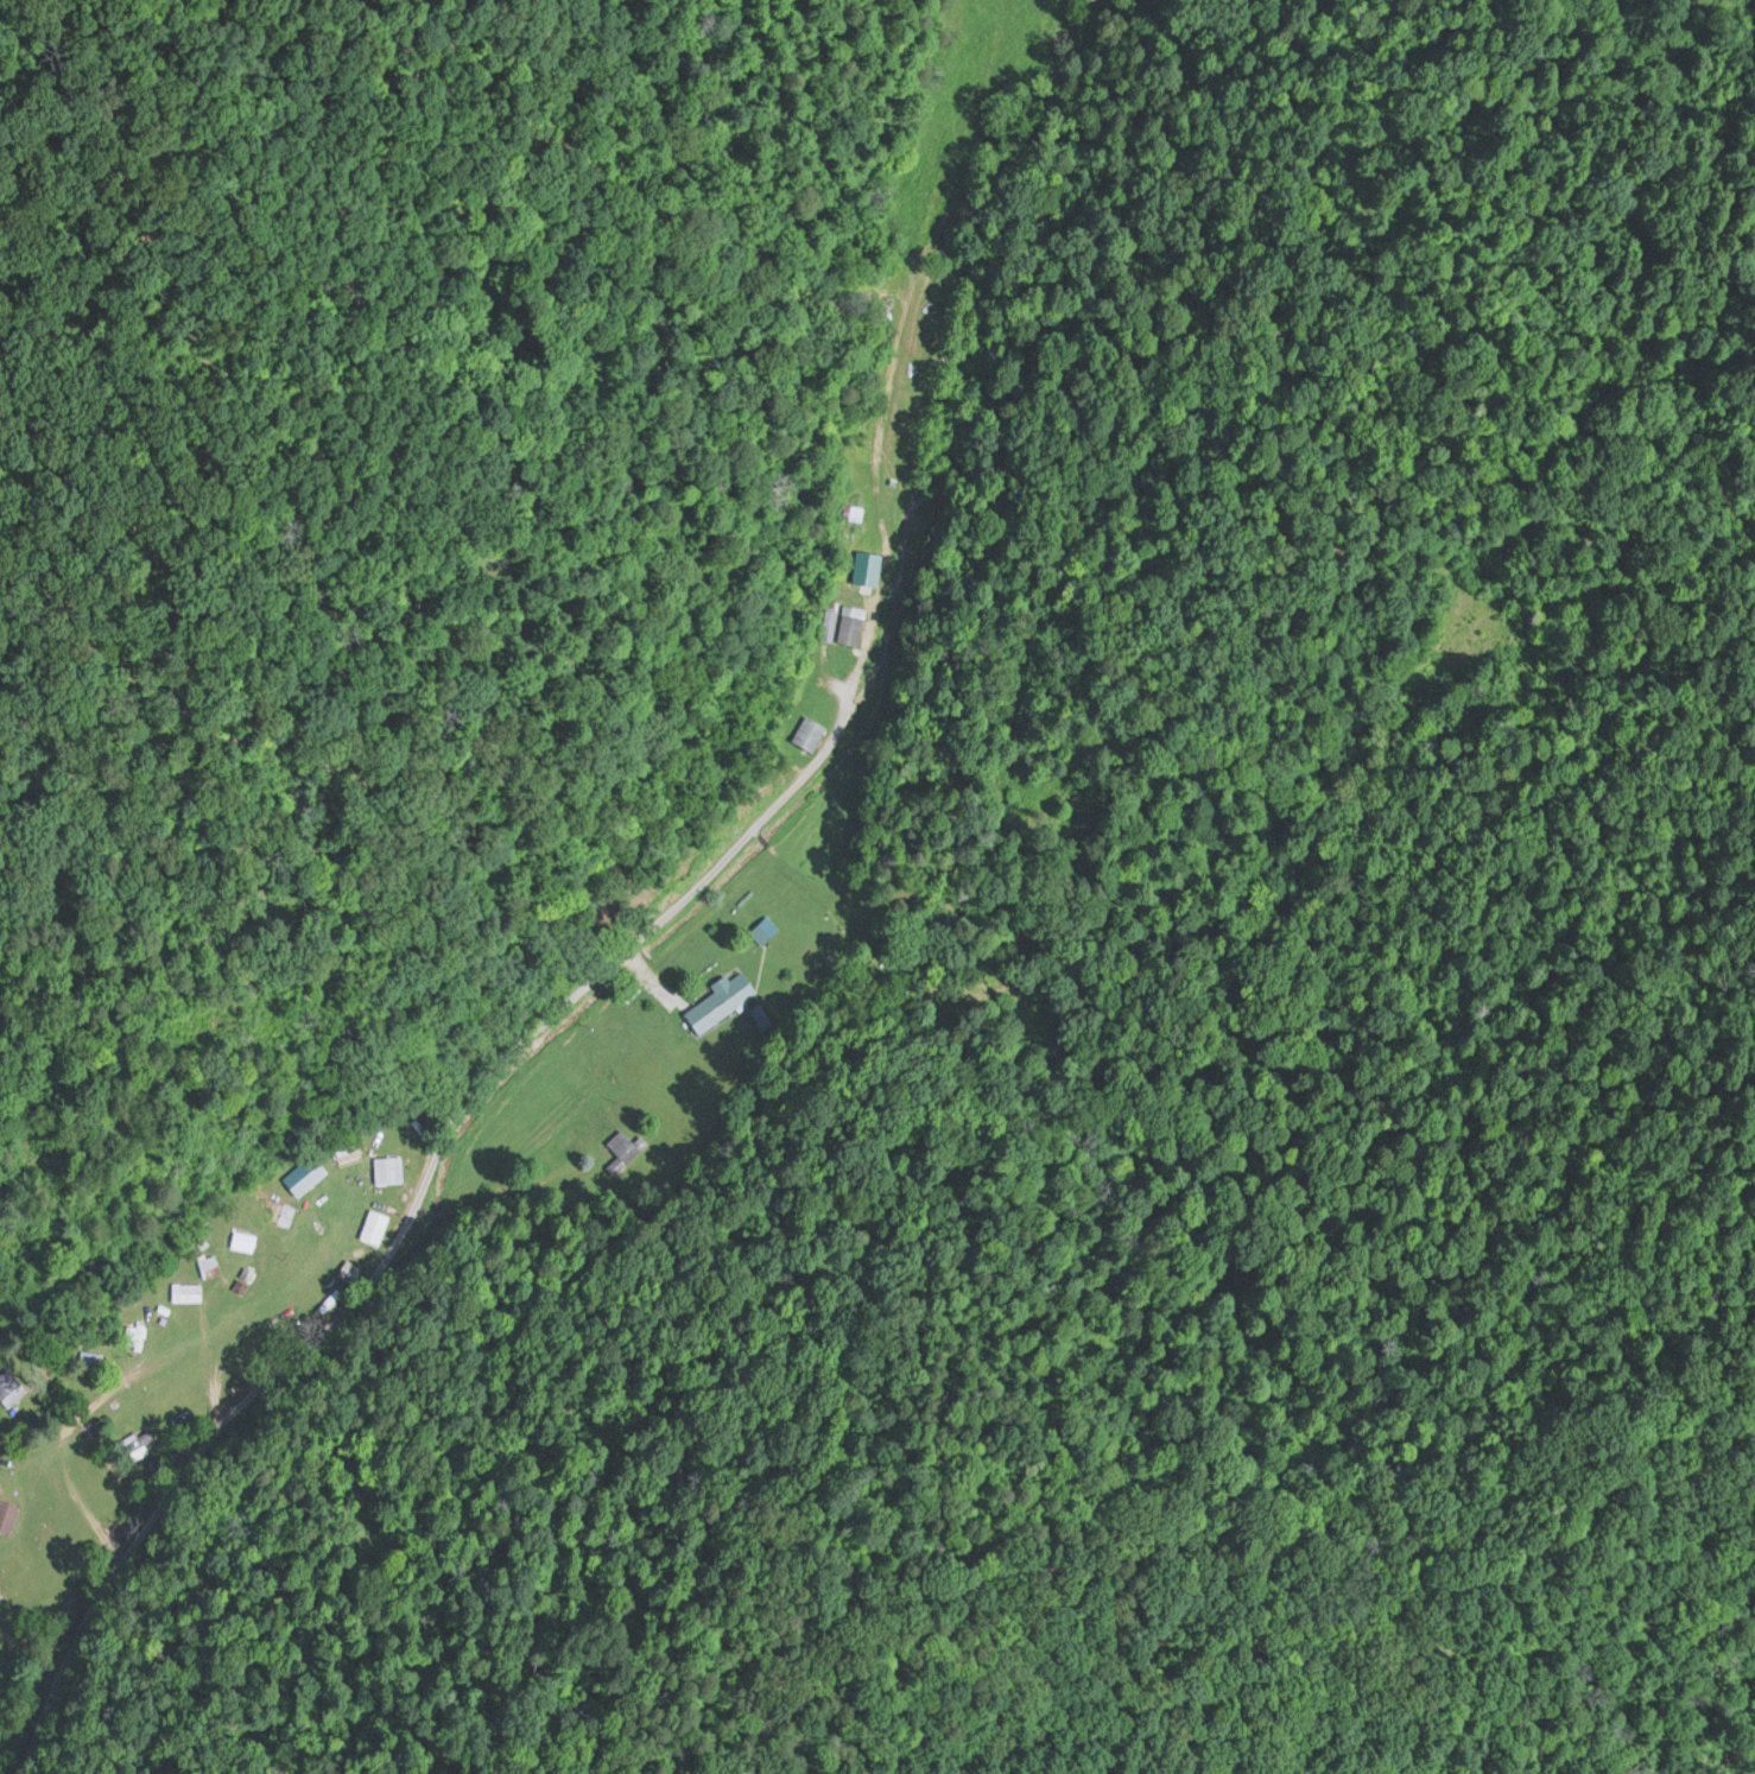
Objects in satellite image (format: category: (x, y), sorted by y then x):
building: (850, 621)
building: (828, 622)
building: (807, 730)
road: (509, 793)
building: (760, 930)
building: (717, 1000)
road: (474, 1076)
road: (458, 1089)
road: (153, 1100)
road: (476, 1101)
building: (382, 1166)
building: (303, 1172)
building: (373, 1223)
building: (241, 1237)
building: (208, 1262)
building: (185, 1288)
building: (8, 1385)

